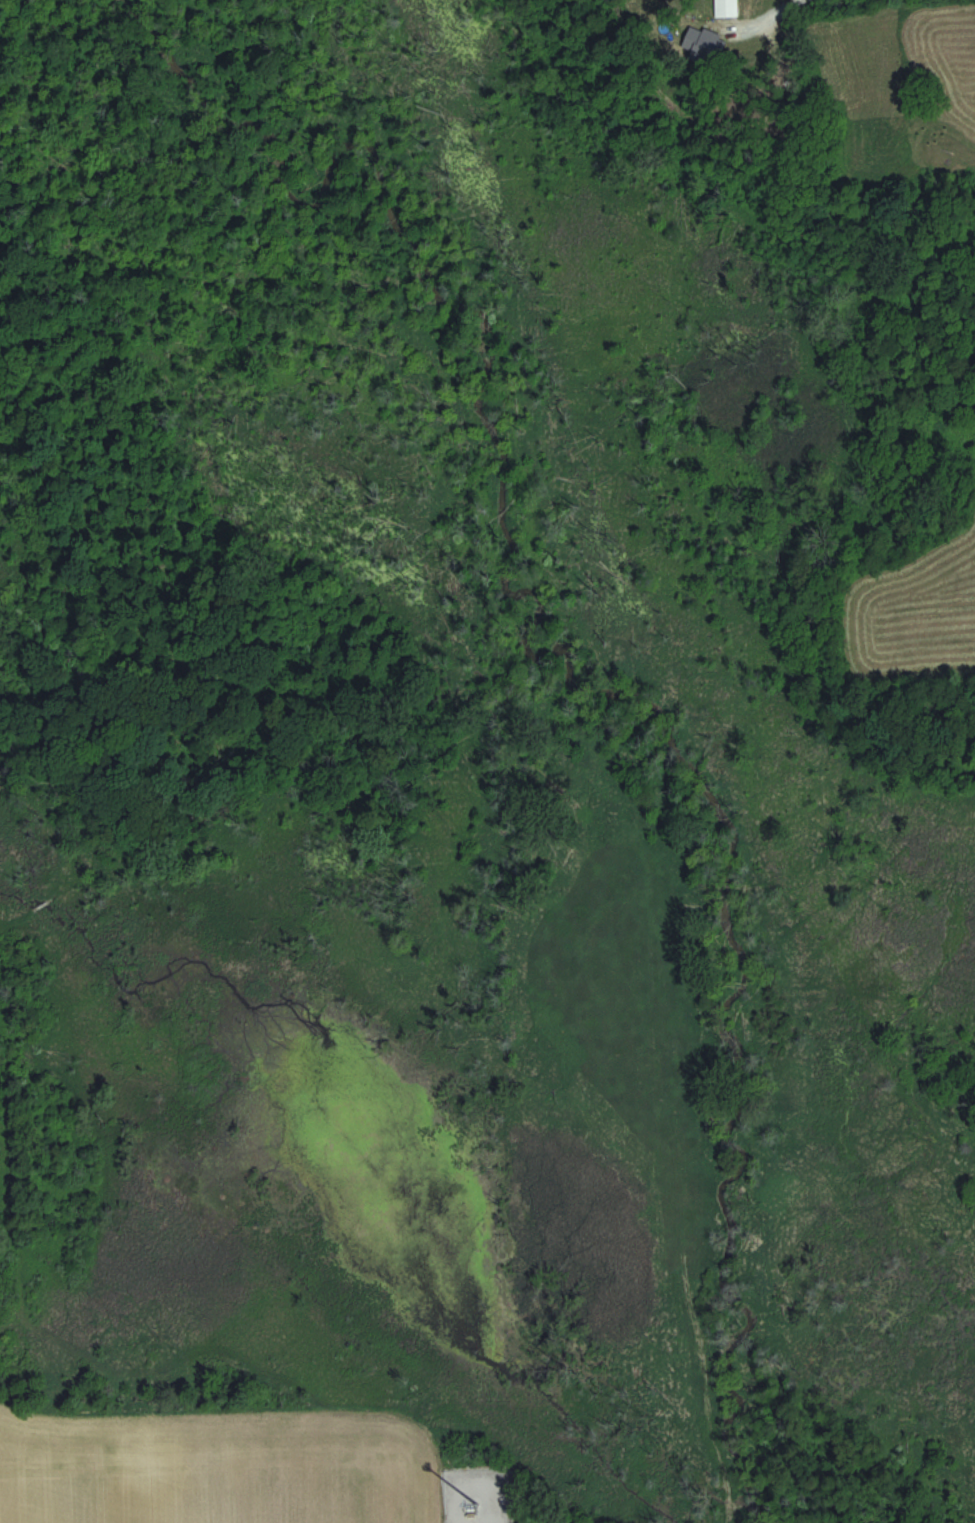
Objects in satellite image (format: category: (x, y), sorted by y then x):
building: (726, 8)
road: (766, 13)
building: (703, 40)

